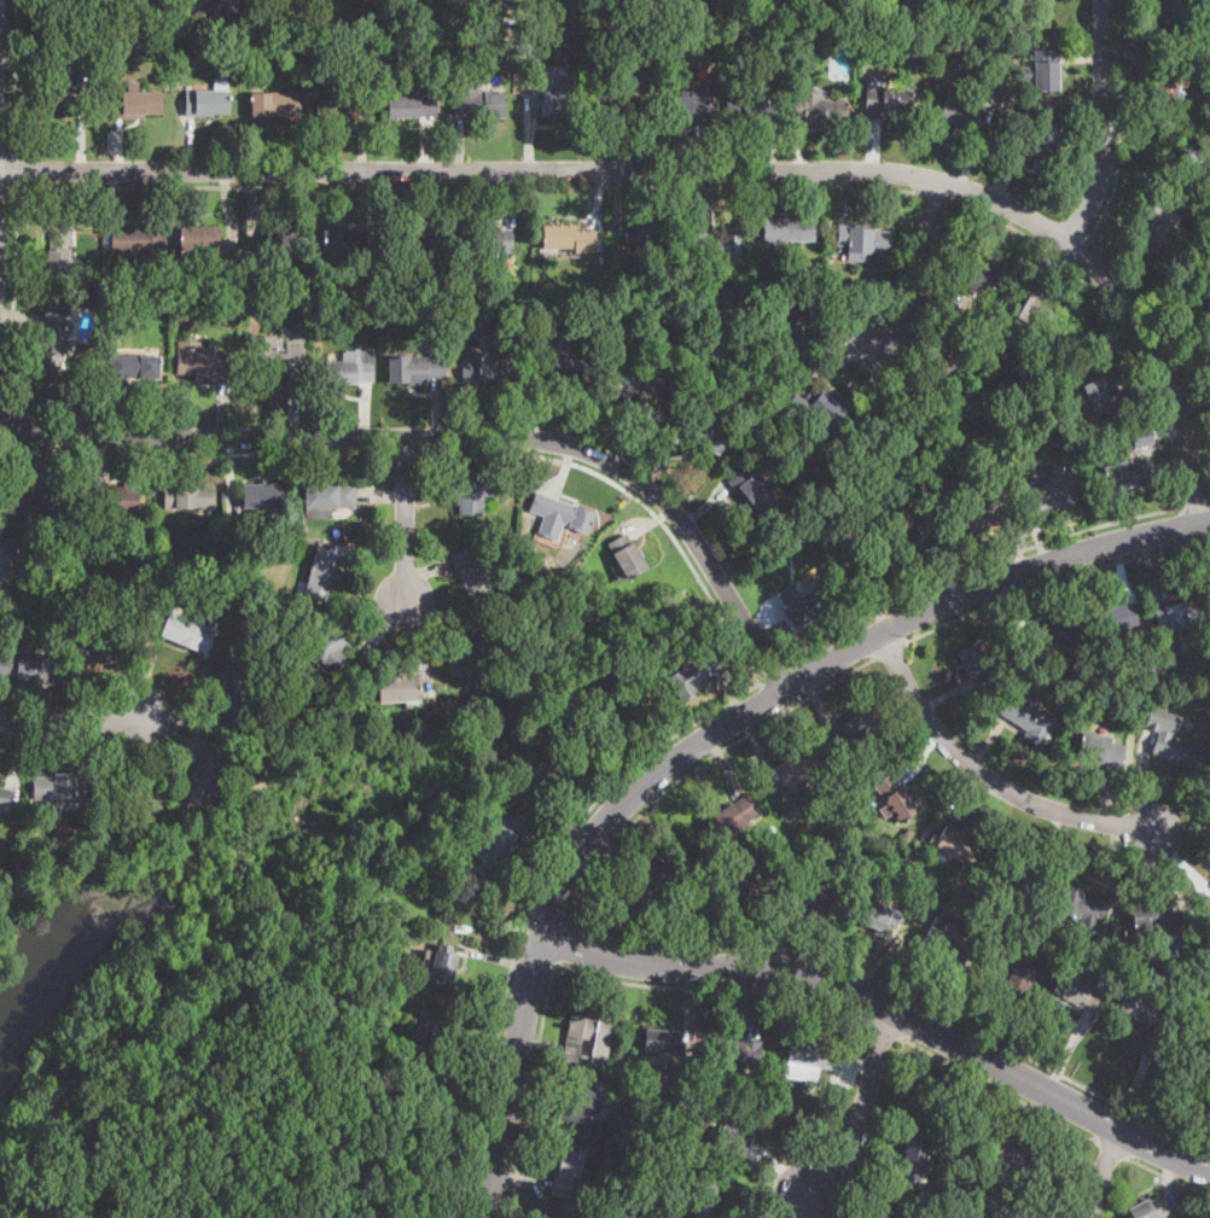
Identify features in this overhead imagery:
building: (197, 0)
building: (506, 0)
building: (540, 4)
building: (223, 5)
building: (598, 5)
building: (1167, 11)
building: (1012, 16)
building: (739, 18)
building: (925, 22)
building: (371, 25)
building: (533, 28)
building: (543, 29)
building: (599, 29)
building: (721, 31)
building: (66, 42)
building: (506, 45)
building: (522, 45)
building: (290, 47)
building: (117, 48)
building: (318, 49)
building: (1209, 49)
building: (91, 52)
building: (988, 63)
building: (1047, 70)
building: (968, 76)
road: (17, 77)
building: (1169, 83)
building: (63, 87)
building: (886, 97)
building: (413, 99)
building: (477, 99)
building: (554, 100)
building: (136, 103)
building: (206, 103)
building: (274, 104)
building: (610, 105)
building: (341, 107)
building: (688, 107)
building: (751, 107)
building: (820, 107)
building: (961, 111)
road: (1104, 124)
road: (1123, 124)
building: (1031, 148)
building: (1198, 161)
road: (700, 169)
road: (17, 170)
road: (467, 186)
road: (935, 197)
building: (1159, 227)
building: (786, 229)
building: (645, 233)
building: (862, 237)
building: (199, 238)
building: (139, 239)
building: (569, 239)
building: (286, 241)
building: (350, 241)
building: (490, 241)
building: (708, 241)
building: (421, 249)
road: (1075, 251)
building: (59, 257)
road: (917, 263)
building: (820, 268)
building: (972, 276)
road: (16, 287)
building: (656, 289)
building: (373, 291)
building: (222, 293)
building: (1026, 303)
building: (564, 315)
building: (600, 315)
road: (1115, 316)
building: (796, 325)
building: (530, 327)
building: (467, 334)
building: (53, 344)
building: (151, 350)
building: (274, 360)
building: (134, 366)
building: (204, 366)
building: (941, 366)
building: (353, 368)
building: (414, 368)
building: (767, 368)
building: (566, 369)
building: (485, 371)
building: (77, 381)
building: (640, 389)
building: (1104, 397)
building: (699, 402)
building: (815, 408)
building: (891, 421)
building: (709, 432)
road: (452, 437)
building: (1142, 437)
road: (56, 450)
road: (406, 453)
road: (466, 453)
road: (196, 454)
road: (105, 460)
road: (161, 465)
road: (565, 471)
building: (790, 474)
building: (1128, 474)
road: (228, 479)
building: (472, 491)
building: (754, 491)
building: (1051, 493)
road: (634, 494)
building: (264, 495)
building: (330, 495)
road: (383, 495)
building: (190, 496)
building: (33, 500)
building: (74, 500)
building: (116, 500)
road: (1196, 505)
building: (987, 512)
building: (559, 515)
road: (406, 520)
road: (651, 521)
building: (299, 529)
building: (930, 544)
road: (365, 547)
building: (7, 548)
building: (627, 555)
road: (976, 566)
building: (878, 567)
road: (426, 570)
building: (471, 572)
building: (318, 576)
building: (555, 576)
road: (1052, 579)
building: (803, 604)
building: (267, 607)
road: (446, 617)
building: (1180, 617)
building: (1117, 618)
road: (382, 630)
building: (1055, 630)
building: (187, 631)
building: (57, 636)
road: (415, 643)
building: (100, 647)
road: (889, 651)
building: (335, 653)
building: (470, 657)
building: (1171, 663)
building: (976, 664)
building: (28, 668)
building: (1087, 668)
building: (1148, 668)
road: (151, 670)
road: (774, 671)
building: (694, 675)
building: (1051, 680)
building: (399, 689)
road: (123, 690)
road: (772, 692)
building: (228, 693)
road: (733, 695)
road: (45, 706)
road: (784, 707)
building: (619, 711)
road: (191, 721)
building: (1029, 721)
road: (70, 722)
building: (855, 729)
road: (667, 732)
road: (708, 738)
road: (105, 739)
building: (1171, 739)
road: (163, 742)
road: (80, 747)
road: (758, 750)
building: (1100, 750)
road: (16, 754)
road: (698, 763)
road: (727, 764)
building: (801, 770)
building: (205, 773)
building: (555, 773)
road: (985, 774)
building: (60, 788)
building: (144, 796)
building: (896, 797)
building: (5, 798)
building: (842, 808)
road: (571, 810)
building: (734, 816)
building: (906, 834)
road: (541, 837)
building: (960, 847)
building: (490, 851)
building: (647, 884)
building: (1019, 884)
building: (902, 888)
building: (731, 890)
building: (809, 897)
road: (533, 899)
building: (1082, 904)
road: (549, 913)
building: (877, 915)
building: (1153, 916)
building: (1024, 923)
building: (1007, 927)
road: (673, 934)
road: (563, 942)
building: (943, 944)
building: (1118, 955)
road: (495, 960)
building: (443, 965)
building: (1013, 971)
road: (715, 987)
road: (902, 990)
building: (1074, 992)
road: (754, 1001)
road: (685, 1002)
road: (889, 1008)
building: (1145, 1009)
building: (1200, 1016)
park: (215, 1021)
road: (886, 1027)
building: (429, 1038)
building: (587, 1041)
building: (663, 1041)
road: (536, 1043)
building: (617, 1054)
building: (739, 1054)
building: (805, 1061)
road: (854, 1063)
road: (68, 1083)
road: (466, 1086)
road: (1001, 1089)
road: (531, 1090)
building: (924, 1091)
road: (536, 1097)
building: (584, 1103)
road: (888, 1103)
road: (862, 1112)
building: (735, 1132)
road: (1115, 1148)
building: (1014, 1154)
building: (912, 1162)
road: (778, 1167)
building: (566, 1172)
road: (874, 1172)
road: (1101, 1172)
road: (1169, 1175)
road: (523, 1178)
road: (1170, 1179)
building: (989, 1184)
road: (762, 1190)
building: (704, 1196)
building: (979, 1197)
road: (853, 1201)
road: (799, 1205)
road: (813, 1205)
building: (43, 1207)
building: (1147, 1208)
building: (1012, 1212)
building: (554, 1217)

